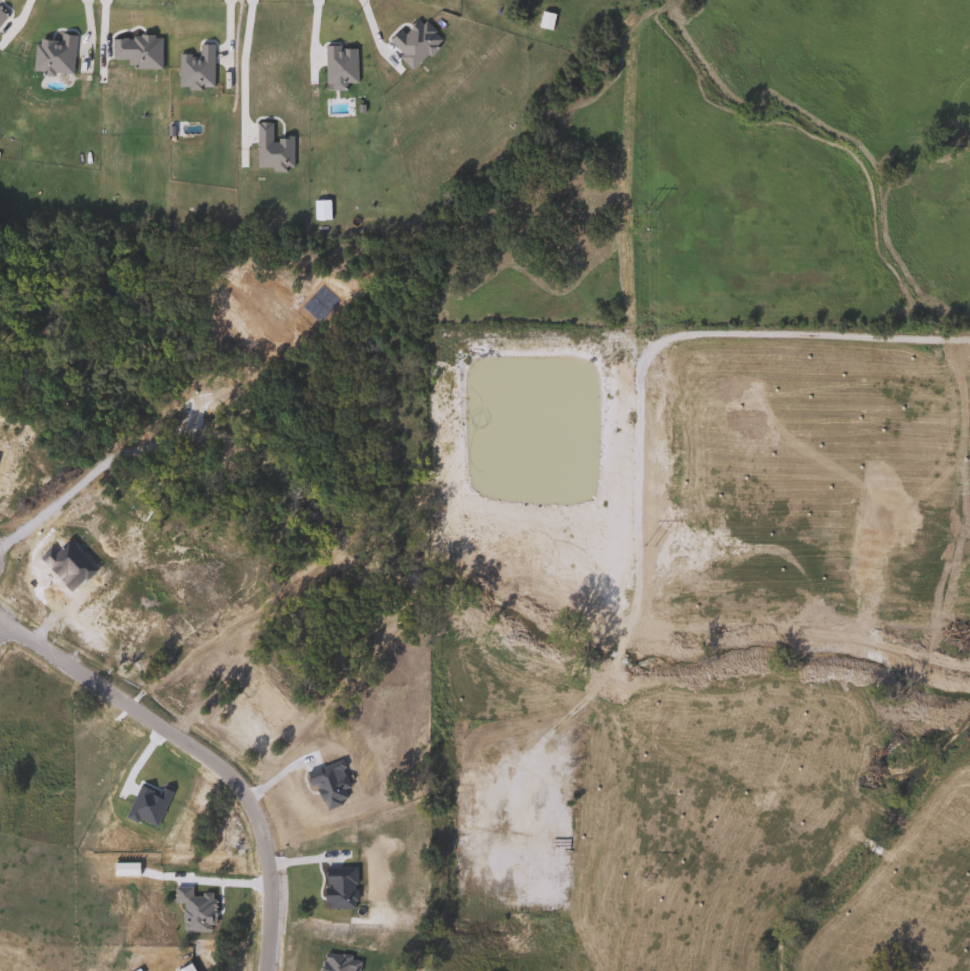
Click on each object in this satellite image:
road: (242, 59)
power tower: (650, 212)
road: (655, 343)
power tower: (651, 546)
road: (3, 635)
road: (613, 657)
road: (558, 720)
road: (197, 753)
power tower: (650, 878)

